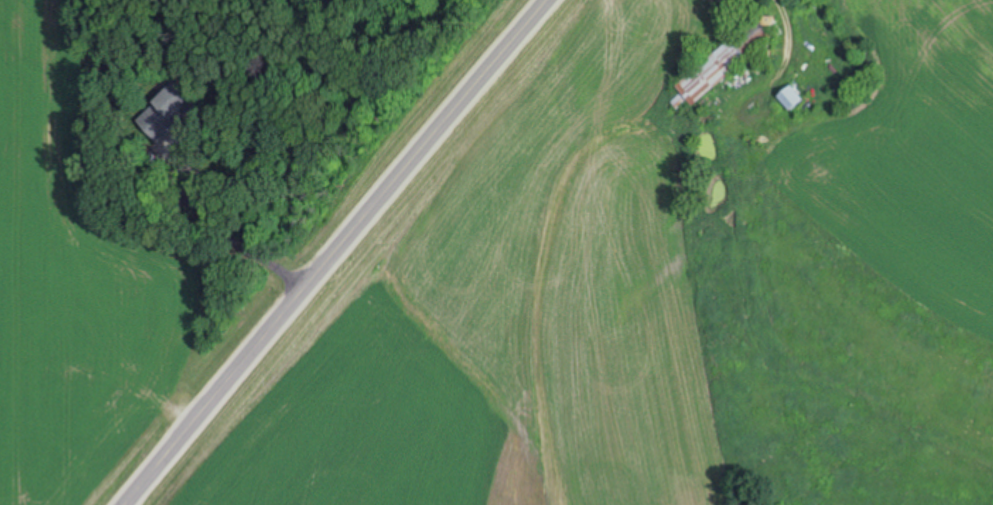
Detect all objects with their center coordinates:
building: (703, 9)
building: (804, 36)
building: (721, 63)
building: (789, 99)
building: (170, 111)
road: (345, 254)

